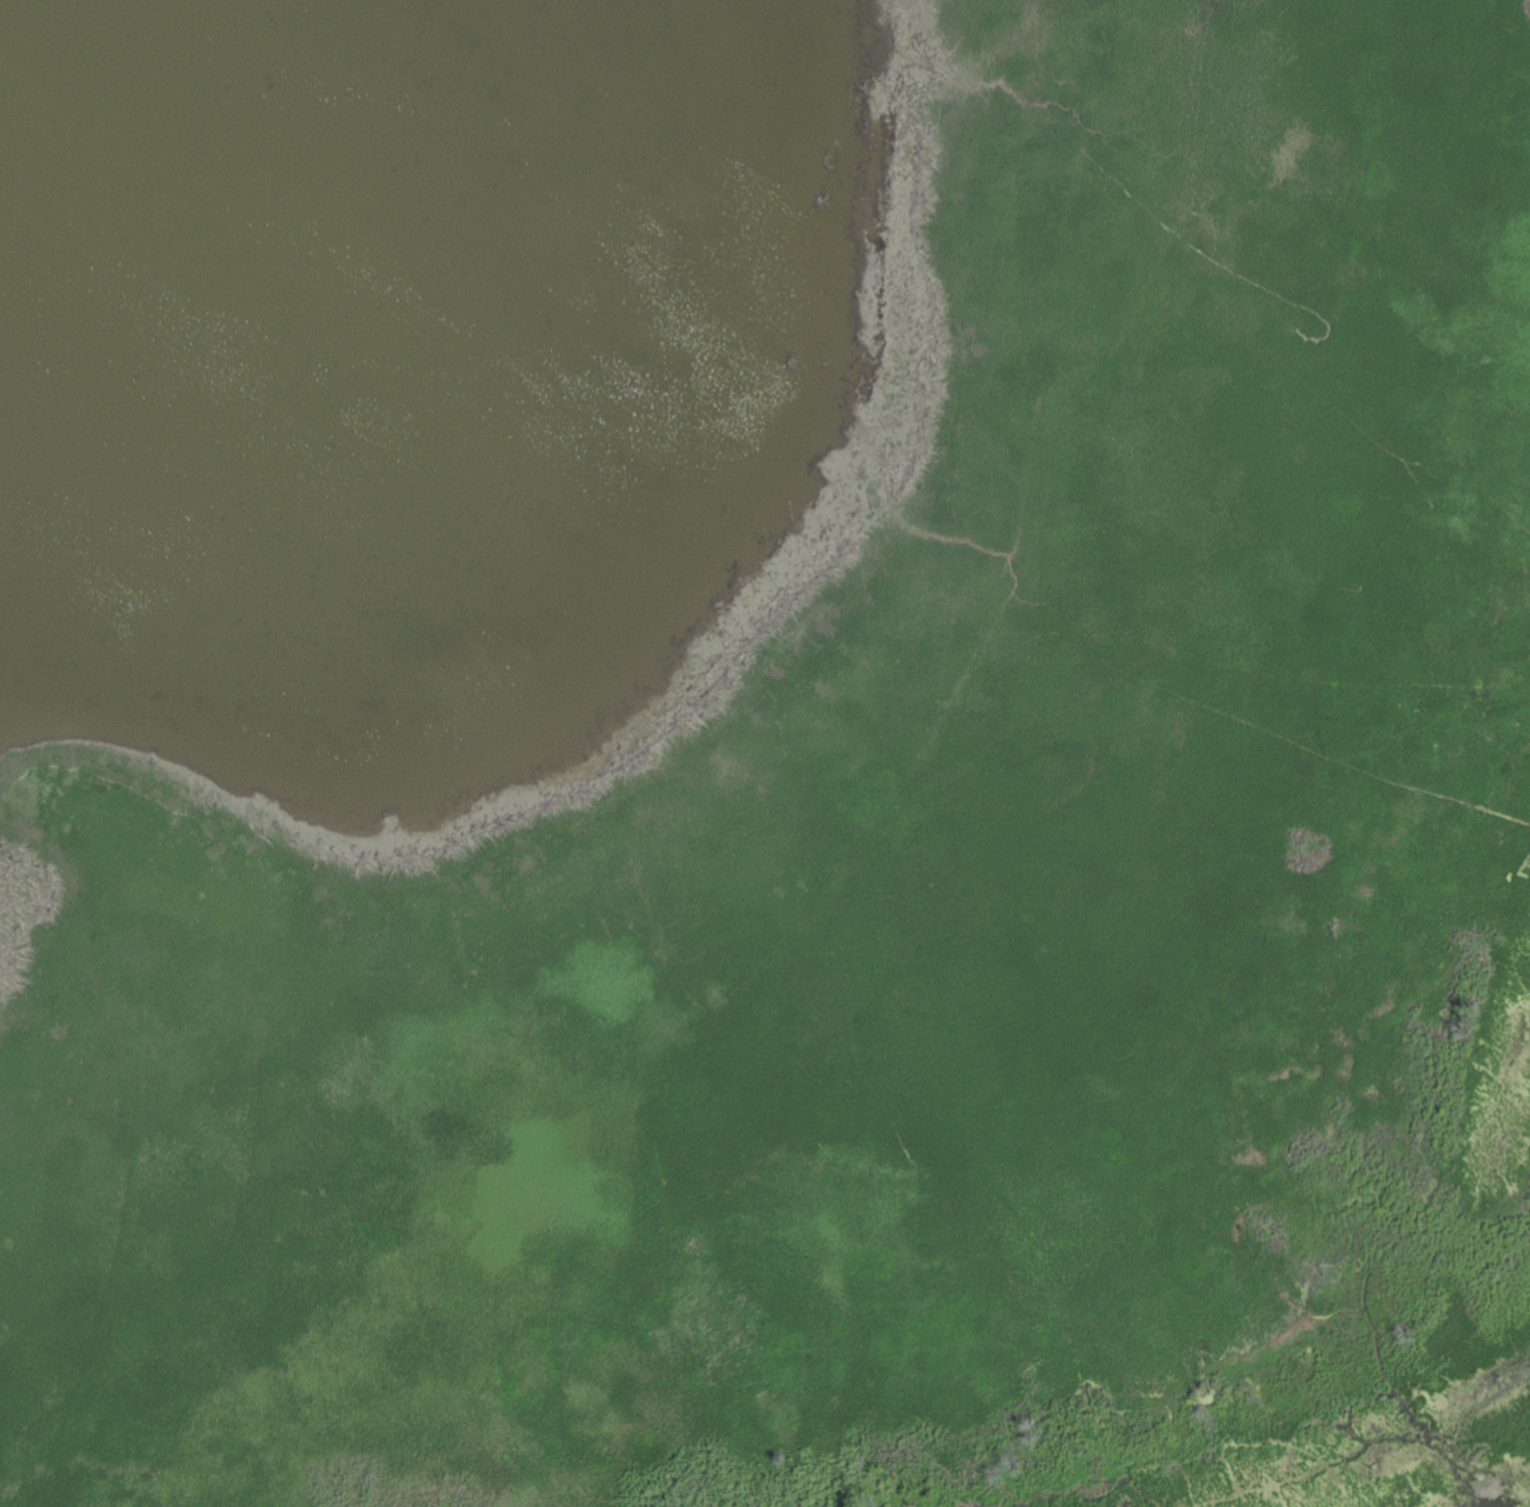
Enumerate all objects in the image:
river: (54, 218)

